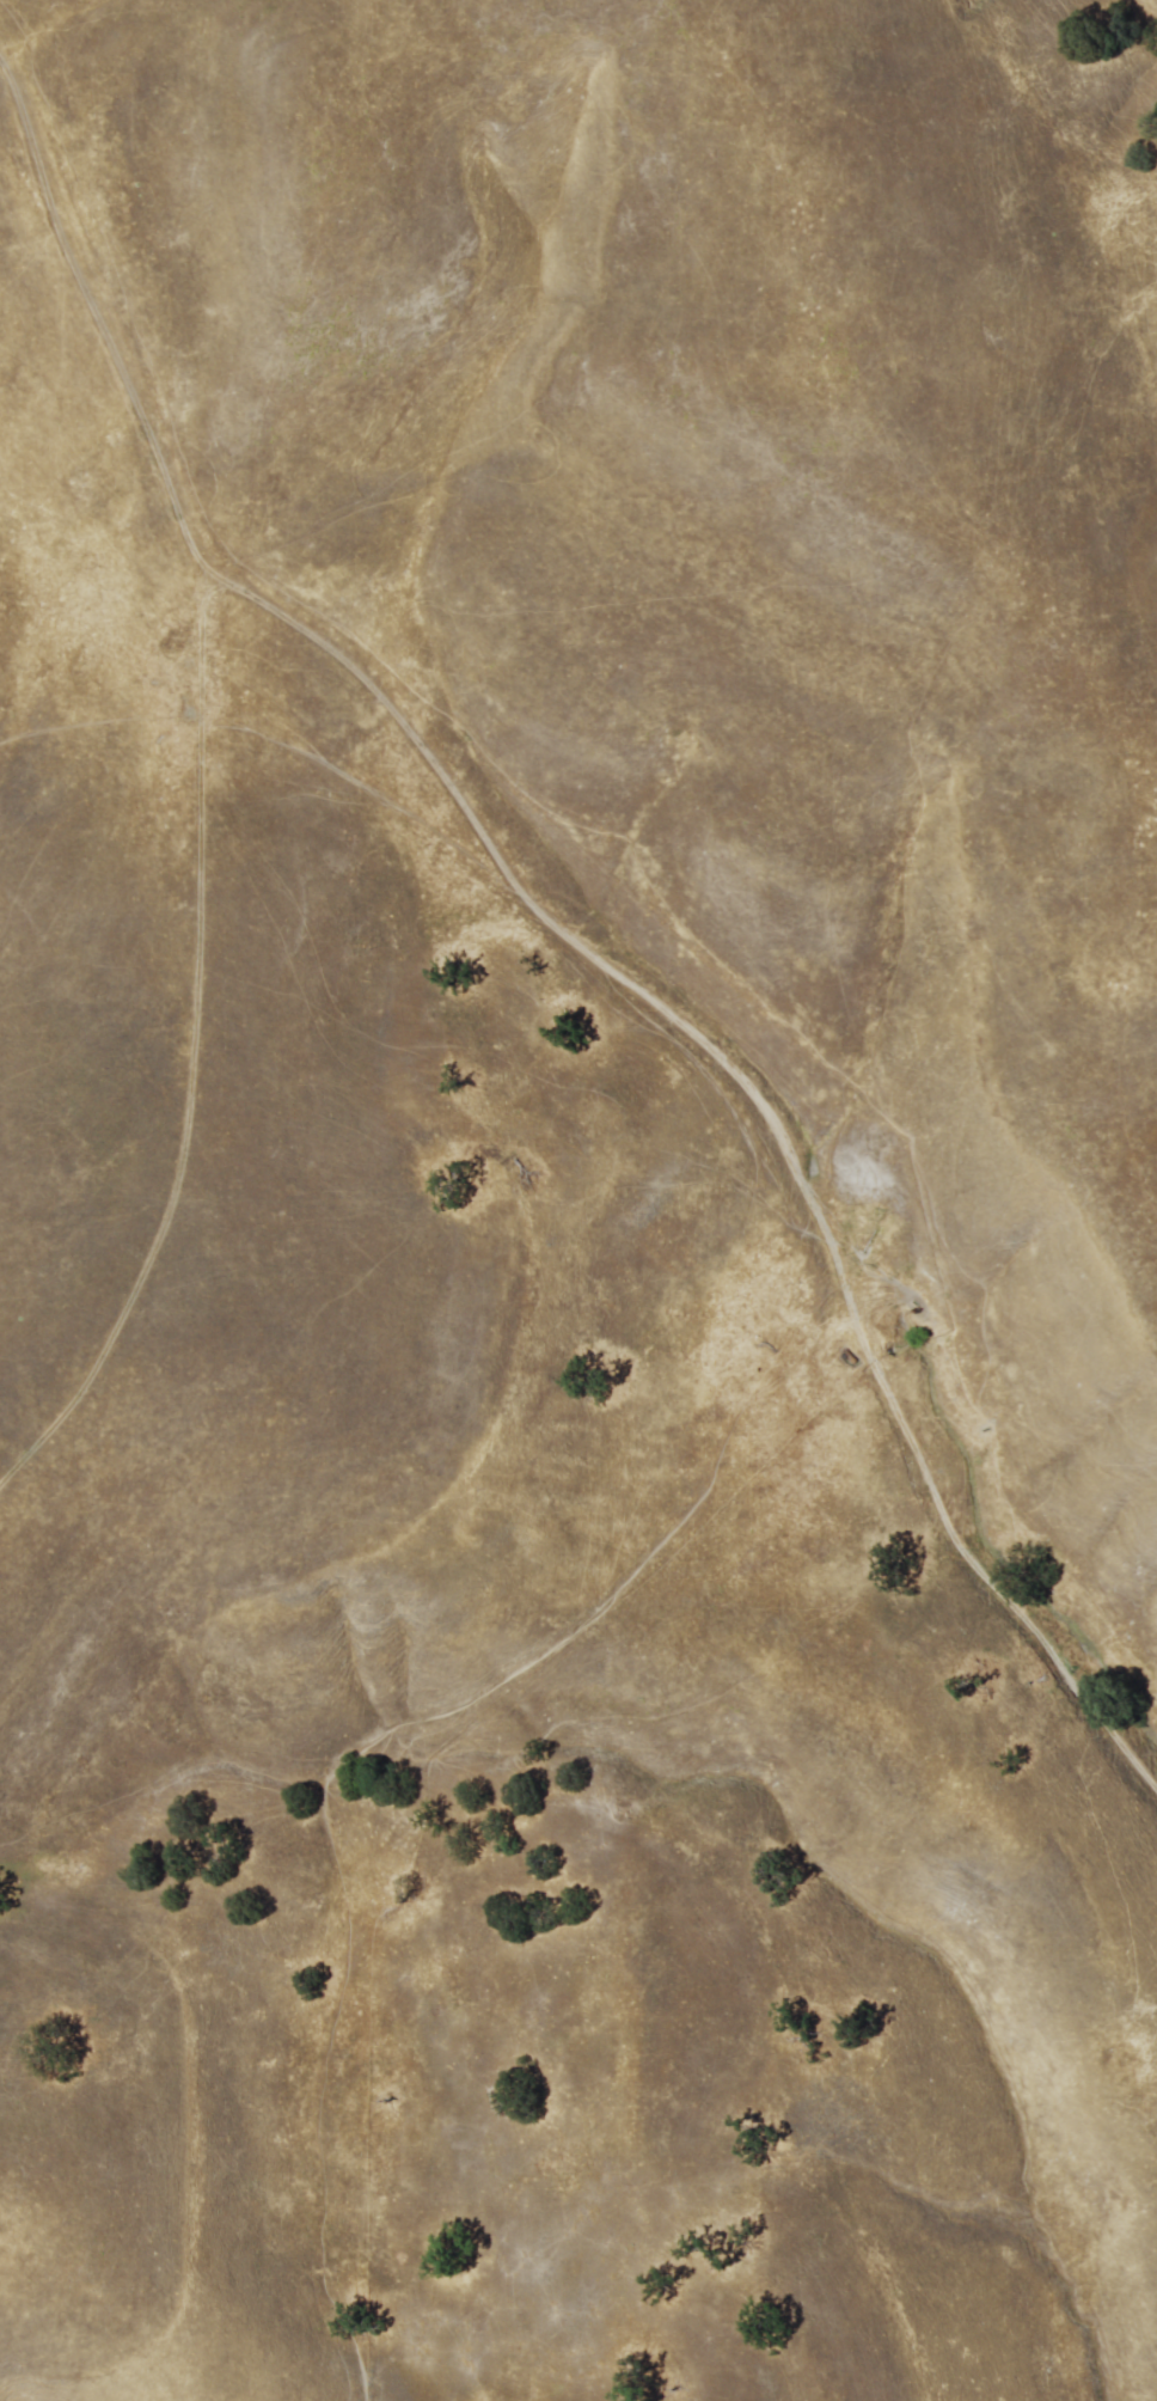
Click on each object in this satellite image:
road: (565, 936)

